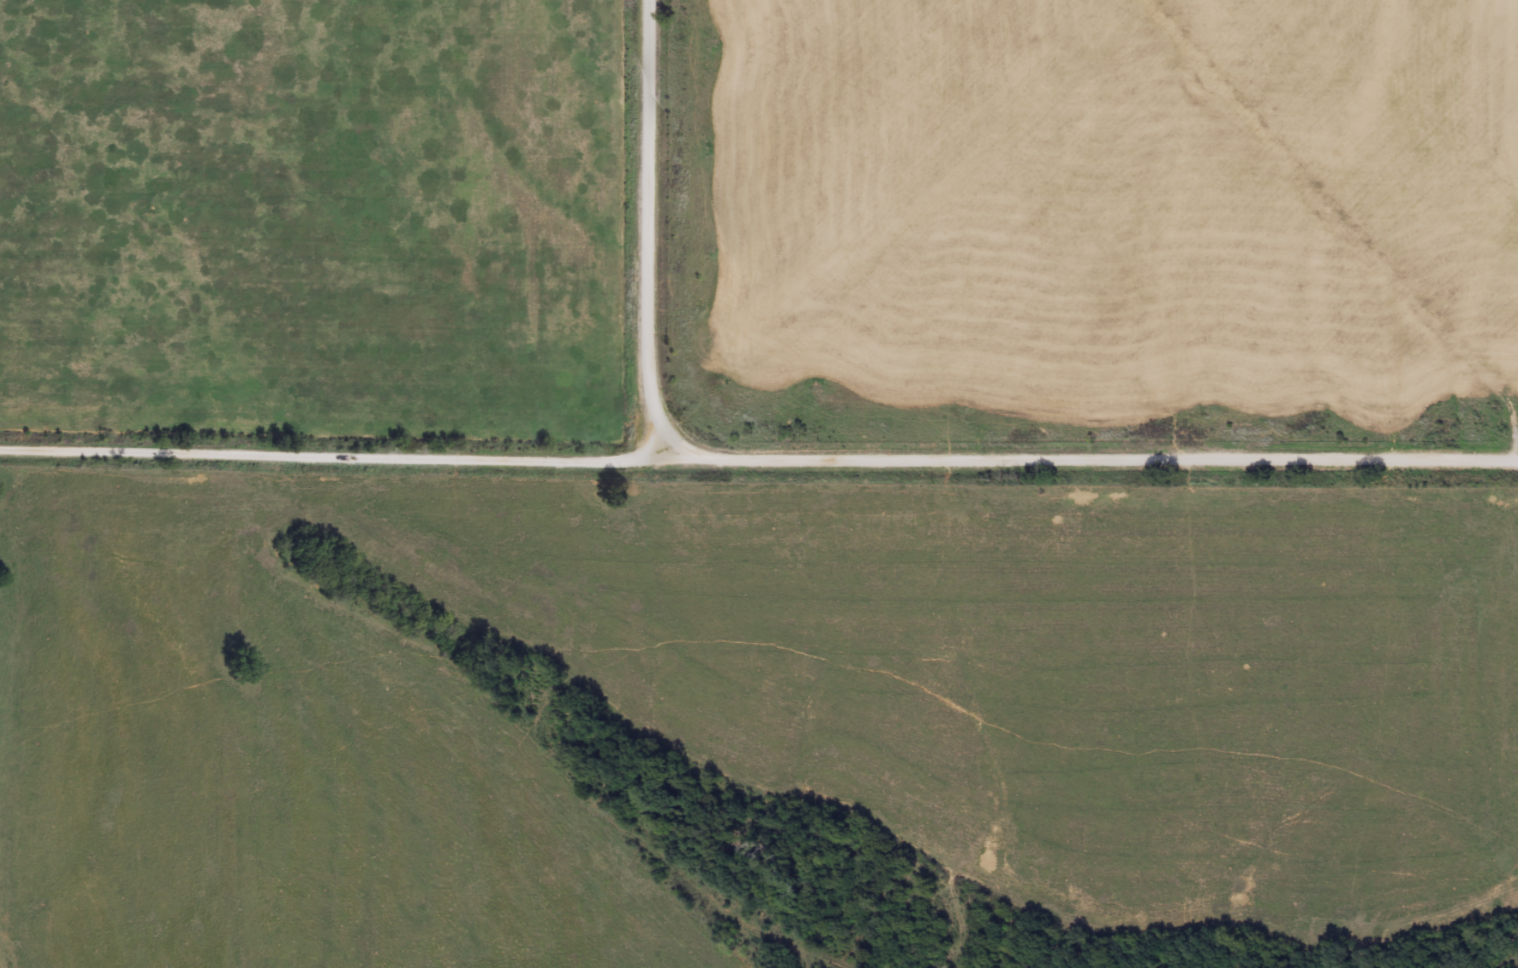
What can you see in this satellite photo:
road: (649, 228)
road: (340, 447)
road: (1098, 460)

